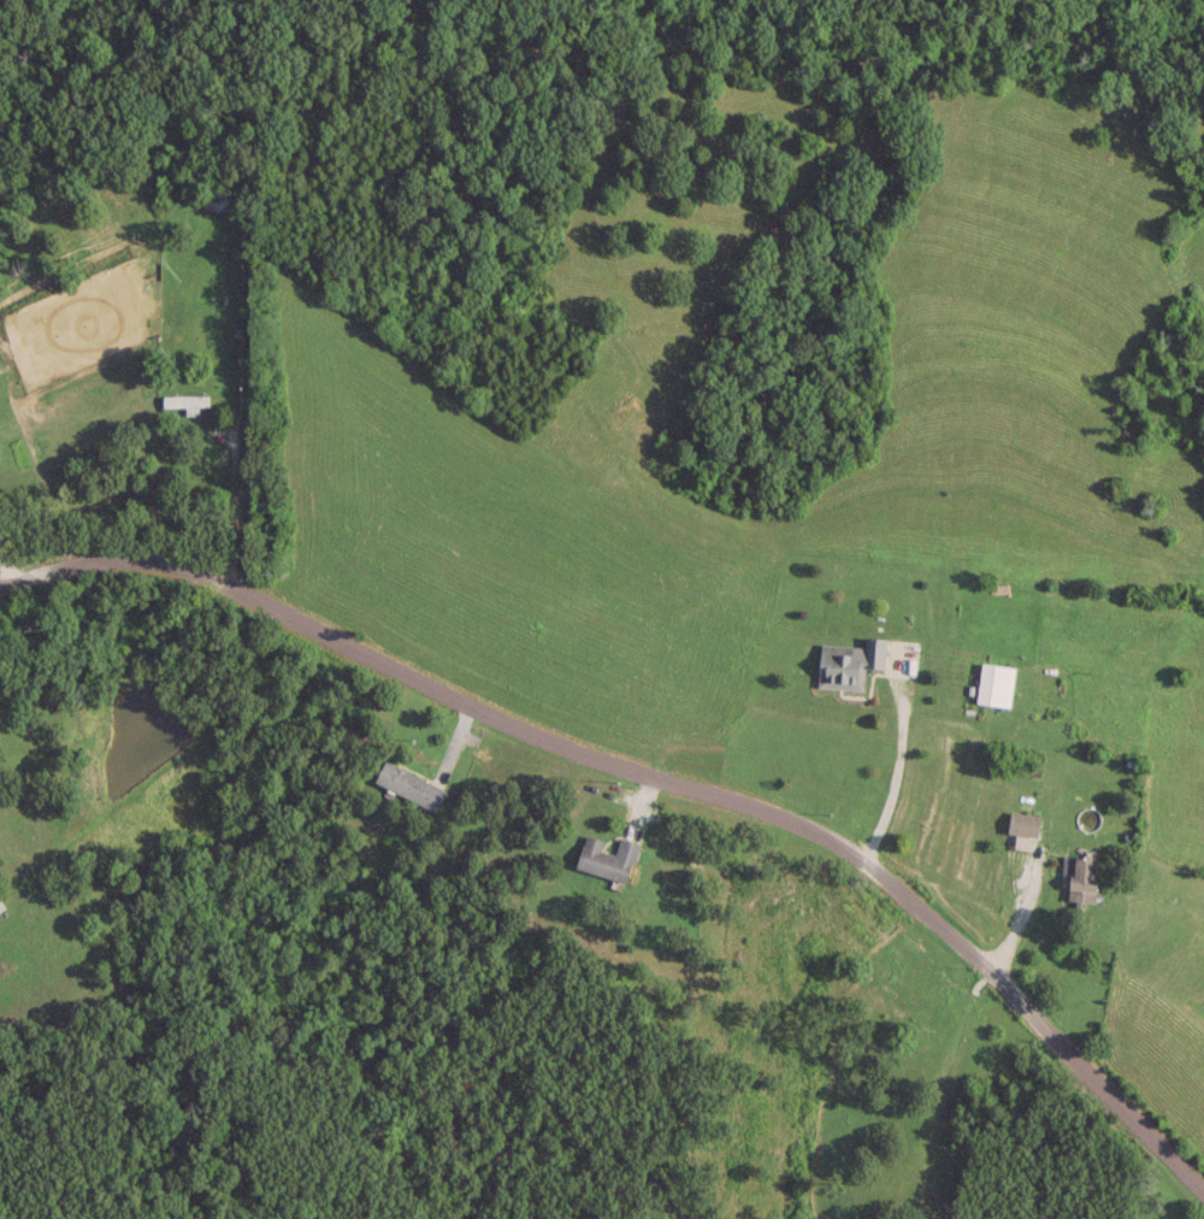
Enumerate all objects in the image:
building: (214, 196)
building: (183, 400)
road: (231, 502)
road: (5, 575)
building: (848, 662)
building: (993, 683)
road: (39, 747)
road: (895, 770)
road: (651, 773)
building: (408, 784)
building: (1022, 821)
building: (606, 858)
building: (1080, 877)
building: (0, 906)

